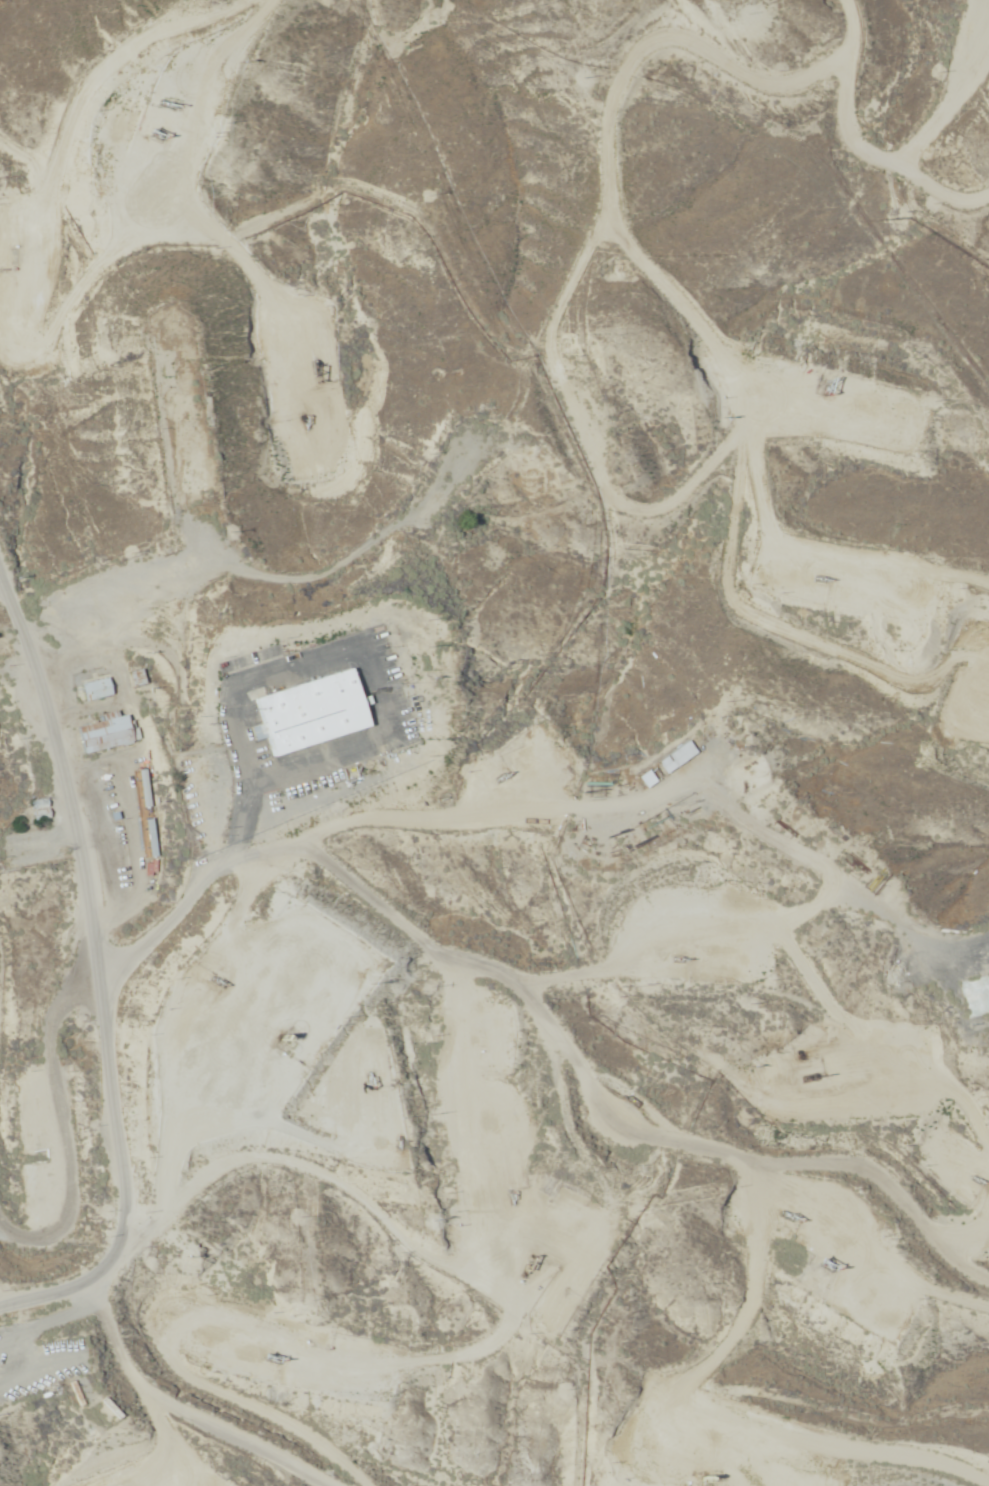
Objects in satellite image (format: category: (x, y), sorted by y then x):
road: (312, 17)
road: (615, 29)
road: (825, 152)
road: (165, 162)
road: (763, 424)
road: (21, 620)
building: (4, 646)
building: (100, 689)
building: (308, 713)
building: (111, 733)
building: (673, 758)
building: (643, 779)
building: (152, 805)
building: (42, 809)
road: (276, 877)
road: (973, 944)
road: (455, 986)
road: (110, 1030)
road: (37, 1078)
road: (751, 1205)
road: (638, 1242)
road: (547, 1252)
building: (102, 1414)

